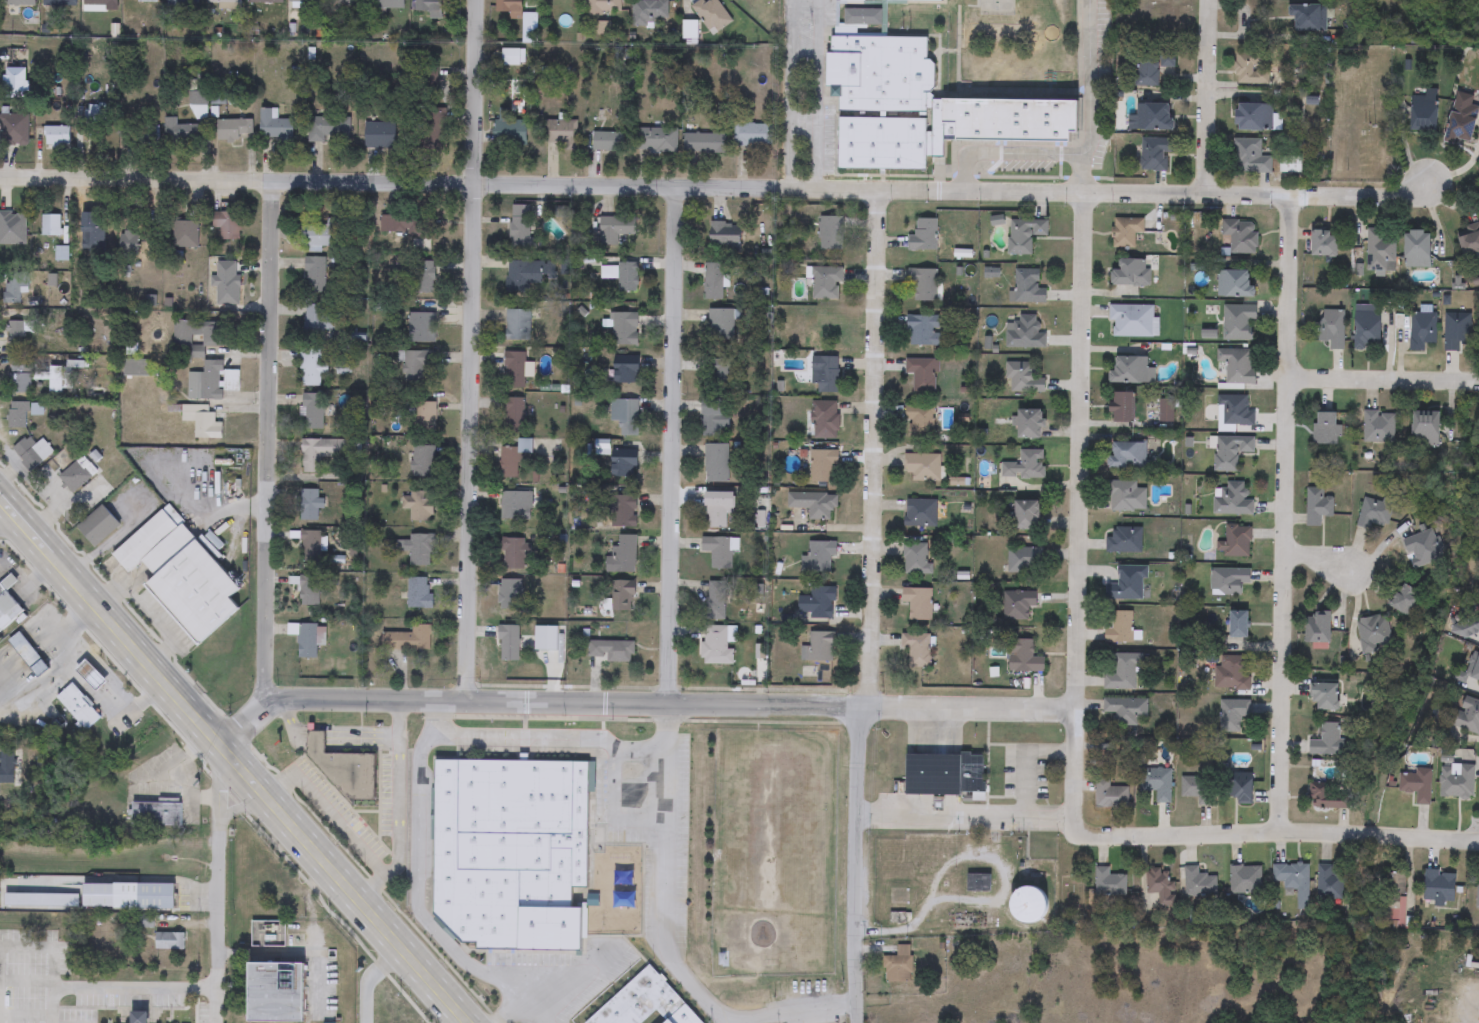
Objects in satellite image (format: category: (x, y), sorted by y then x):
building: (755, 0)
building: (148, 1)
building: (306, 1)
building: (916, 1)
building: (59, 2)
building: (265, 2)
building: (853, 2)
building: (19, 3)
building: (562, 3)
building: (182, 4)
building: (227, 4)
building: (100, 5)
building: (387, 5)
building: (604, 7)
building: (344, 8)
building: (429, 8)
building: (510, 8)
building: (648, 12)
building: (712, 15)
building: (1308, 20)
building: (513, 58)
building: (1153, 65)
building: (1252, 69)
road: (1088, 77)
building: (14, 84)
road: (790, 94)
road: (817, 94)
road: (1207, 97)
building: (919, 103)
building: (1425, 112)
building: (1256, 117)
building: (1152, 118)
building: (1463, 120)
building: (274, 125)
building: (233, 129)
building: (327, 129)
building: (14, 130)
building: (508, 130)
building: (180, 134)
building: (562, 134)
building: (753, 135)
building: (56, 136)
building: (148, 136)
building: (380, 136)
building: (657, 140)
building: (608, 142)
building: (706, 143)
road: (1005, 153)
building: (1156, 154)
building: (1250, 156)
building: (1291, 165)
road: (1082, 173)
road: (437, 181)
road: (1155, 194)
building: (51, 226)
building: (405, 226)
building: (520, 227)
building: (13, 228)
building: (227, 228)
building: (1126, 232)
building: (91, 234)
building: (726, 234)
building: (830, 234)
building: (185, 235)
building: (320, 235)
building: (1024, 235)
building: (924, 236)
building: (1241, 237)
building: (129, 242)
building: (1471, 242)
building: (1325, 244)
building: (1418, 250)
building: (1380, 252)
building: (609, 273)
building: (1132, 274)
building: (315, 275)
building: (522, 276)
building: (424, 278)
building: (627, 278)
building: (713, 282)
building: (826, 284)
building: (924, 285)
building: (1236, 285)
building: (14, 287)
building: (1029, 288)
building: (315, 321)
building: (1131, 322)
building: (1240, 324)
building: (518, 326)
building: (721, 326)
building: (422, 328)
building: (624, 329)
building: (1332, 329)
building: (1368, 329)
building: (1423, 330)
building: (925, 331)
building: (1457, 332)
building: (1024, 333)
building: (16, 336)
road: (468, 349)
building: (417, 365)
building: (134, 366)
building: (1238, 366)
building: (515, 370)
building: (1132, 371)
building: (627, 372)
building: (826, 375)
building: (922, 375)
building: (724, 376)
building: (19, 378)
building: (1023, 378)
road: (1384, 379)
building: (212, 382)
building: (1123, 409)
building: (313, 412)
building: (1234, 413)
building: (18, 415)
building: (424, 415)
building: (513, 416)
building: (625, 416)
building: (714, 418)
building: (822, 421)
building: (202, 422)
building: (920, 422)
building: (1030, 425)
building: (1379, 428)
building: (1328, 430)
building: (1427, 430)
road: (670, 444)
road: (267, 445)
building: (32, 452)
building: (321, 453)
building: (1231, 453)
building: (1127, 456)
building: (512, 459)
building: (423, 463)
building: (624, 464)
building: (716, 464)
building: (822, 466)
building: (1025, 466)
building: (923, 468)
building: (77, 475)
building: (1128, 497)
building: (1232, 500)
building: (814, 505)
building: (309, 506)
building: (420, 506)
building: (515, 506)
building: (1318, 506)
building: (718, 509)
road: (228, 510)
road: (1077, 512)
building: (624, 513)
building: (1374, 513)
building: (921, 514)
building: (1027, 517)
road: (1285, 517)
building: (98, 527)
road: (13, 528)
building: (1125, 541)
building: (1238, 542)
building: (311, 548)
building: (1424, 549)
building: (417, 550)
building: (719, 553)
building: (516, 554)
building: (623, 556)
road: (1319, 556)
building: (821, 558)
building: (915, 559)
building: (1024, 561)
building: (180, 576)
building: (1229, 582)
building: (1128, 585)
building: (307, 590)
building: (418, 594)
building: (510, 595)
building: (622, 596)
building: (716, 601)
building: (1408, 602)
building: (7, 603)
building: (819, 603)
building: (918, 604)
building: (1018, 605)
road: (869, 606)
road: (145, 612)
building: (1240, 625)
building: (1122, 628)
building: (1467, 628)
building: (1318, 629)
building: (1374, 635)
building: (307, 641)
building: (408, 641)
building: (509, 644)
building: (716, 647)
building: (818, 647)
building: (917, 650)
building: (609, 653)
building: (28, 655)
building: (1024, 658)
road: (99, 667)
building: (1476, 672)
building: (1124, 673)
building: (1233, 673)
road: (44, 682)
building: (1326, 697)
road: (640, 703)
building: (77, 707)
road: (437, 711)
building: (1126, 712)
building: (1233, 715)
building: (1468, 716)
road: (398, 719)
road: (669, 726)
road: (446, 731)
road: (428, 738)
road: (529, 739)
road: (326, 740)
building: (1328, 741)
road: (635, 748)
road: (235, 759)
road: (1024, 759)
building: (9, 766)
building: (343, 769)
road: (168, 772)
building: (945, 774)
building: (1457, 781)
building: (1156, 783)
building: (1417, 785)
building: (1198, 789)
building: (1242, 789)
building: (1110, 795)
building: (1329, 796)
road: (397, 804)
road: (236, 809)
building: (156, 813)
road: (330, 813)
road: (966, 815)
road: (1277, 838)
building: (511, 852)
road: (74, 879)
road: (177, 879)
building: (1246, 880)
building: (1294, 880)
building: (1196, 882)
building: (979, 883)
building: (1109, 883)
building: (1331, 884)
road: (218, 885)
road: (380, 885)
building: (1161, 885)
building: (1392, 885)
building: (1440, 888)
building: (143, 896)
road: (416, 904)
building: (1029, 904)
building: (170, 941)
road: (315, 954)
road: (671, 959)
building: (899, 965)
road: (578, 973)
road: (367, 977)
road: (318, 982)
road: (121, 989)
building: (277, 992)
building: (645, 1002)
road: (526, 1004)
building: (375, 1014)

